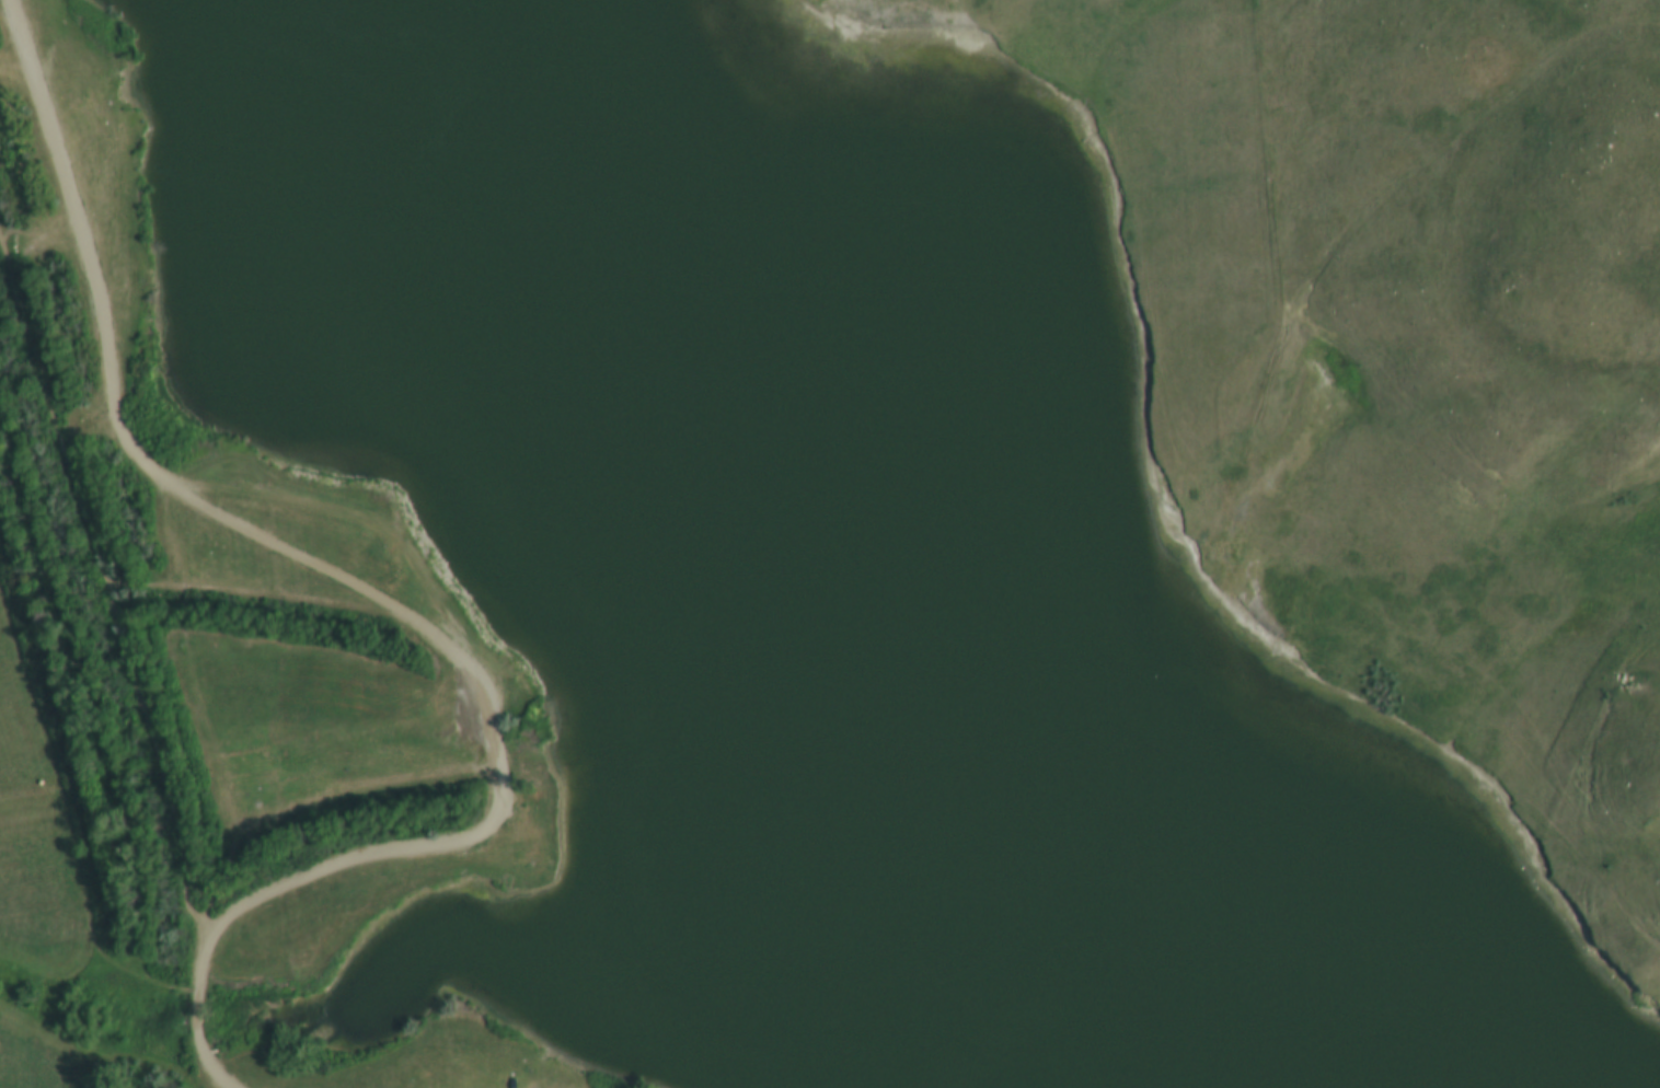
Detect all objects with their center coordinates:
road: (122, 413)
road: (108, 598)
road: (493, 715)
road: (199, 1026)

